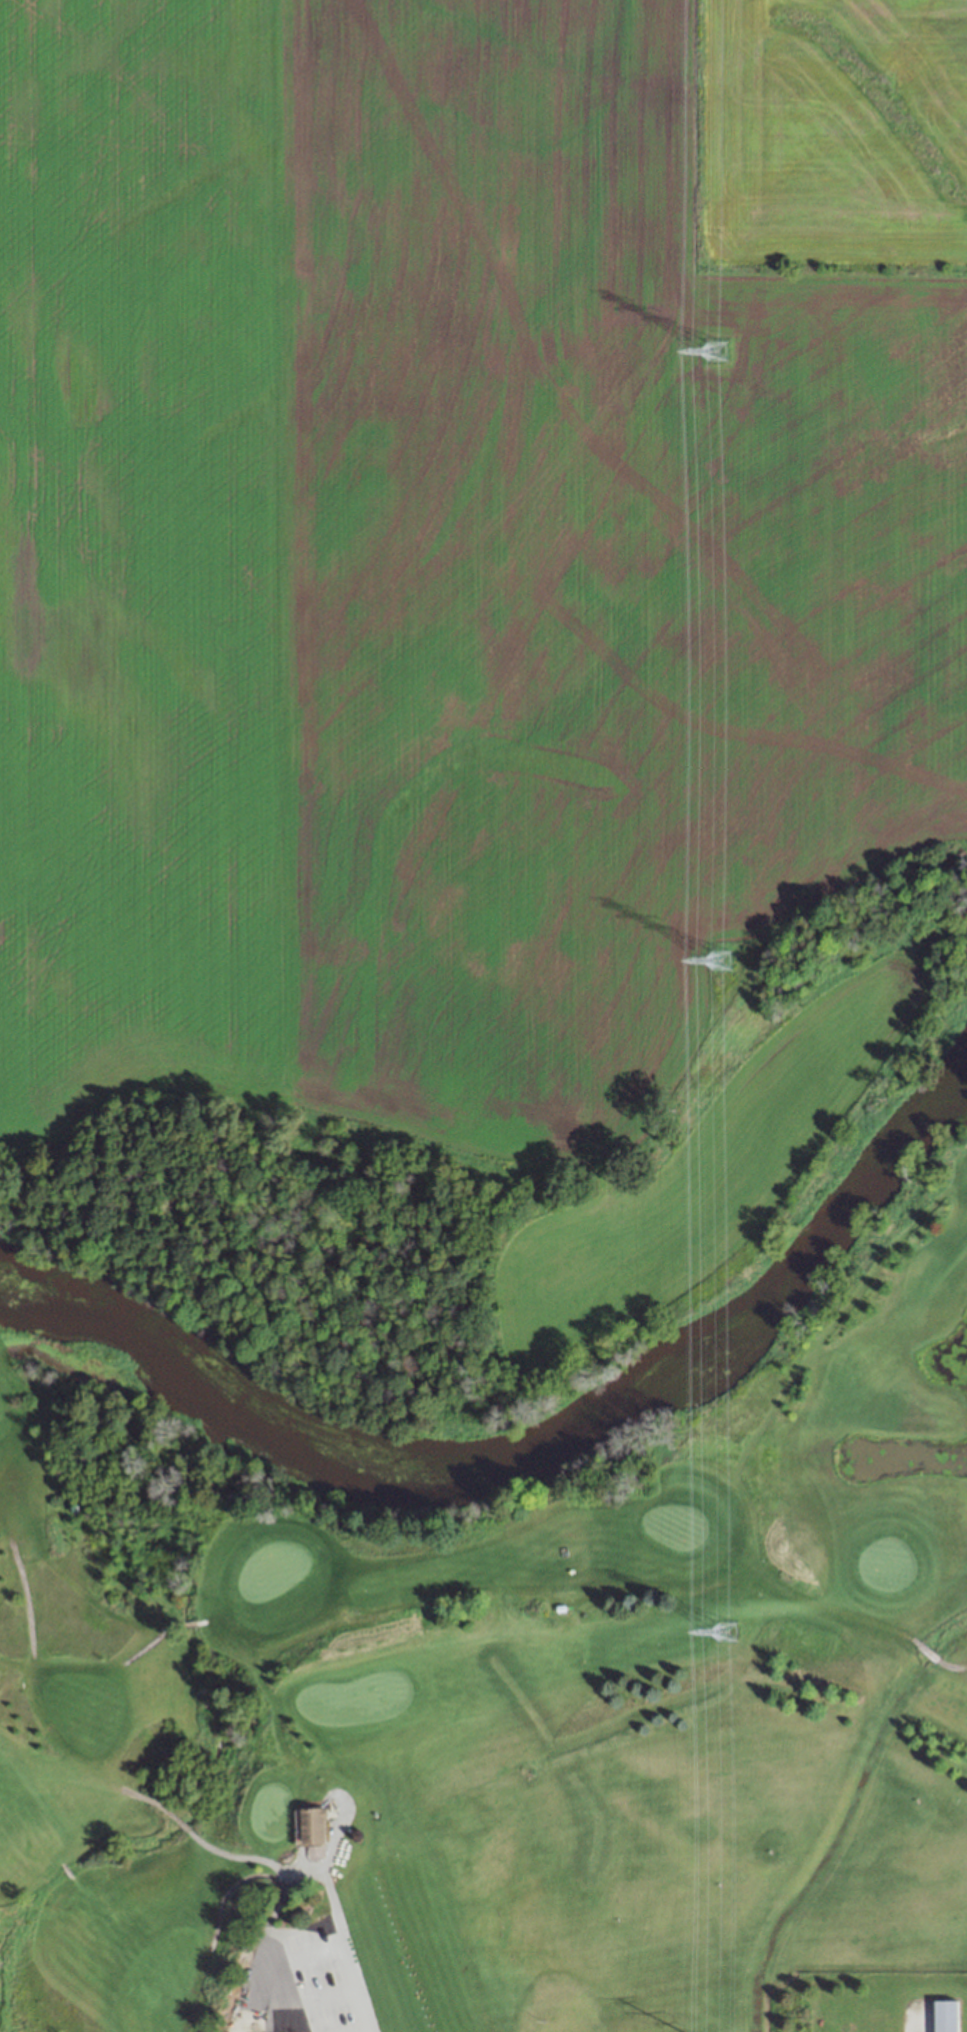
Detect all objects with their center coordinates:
power tower: (716, 348)
power tower: (719, 958)
river: (542, 1417)
road: (173, 1630)
road: (37, 1631)
power tower: (724, 1631)
road: (940, 1651)
park: (499, 1700)
road: (21, 1737)
building: (319, 1822)
road: (261, 1853)
road: (77, 1863)
road: (282, 1906)
road: (260, 1962)
road: (362, 2002)

